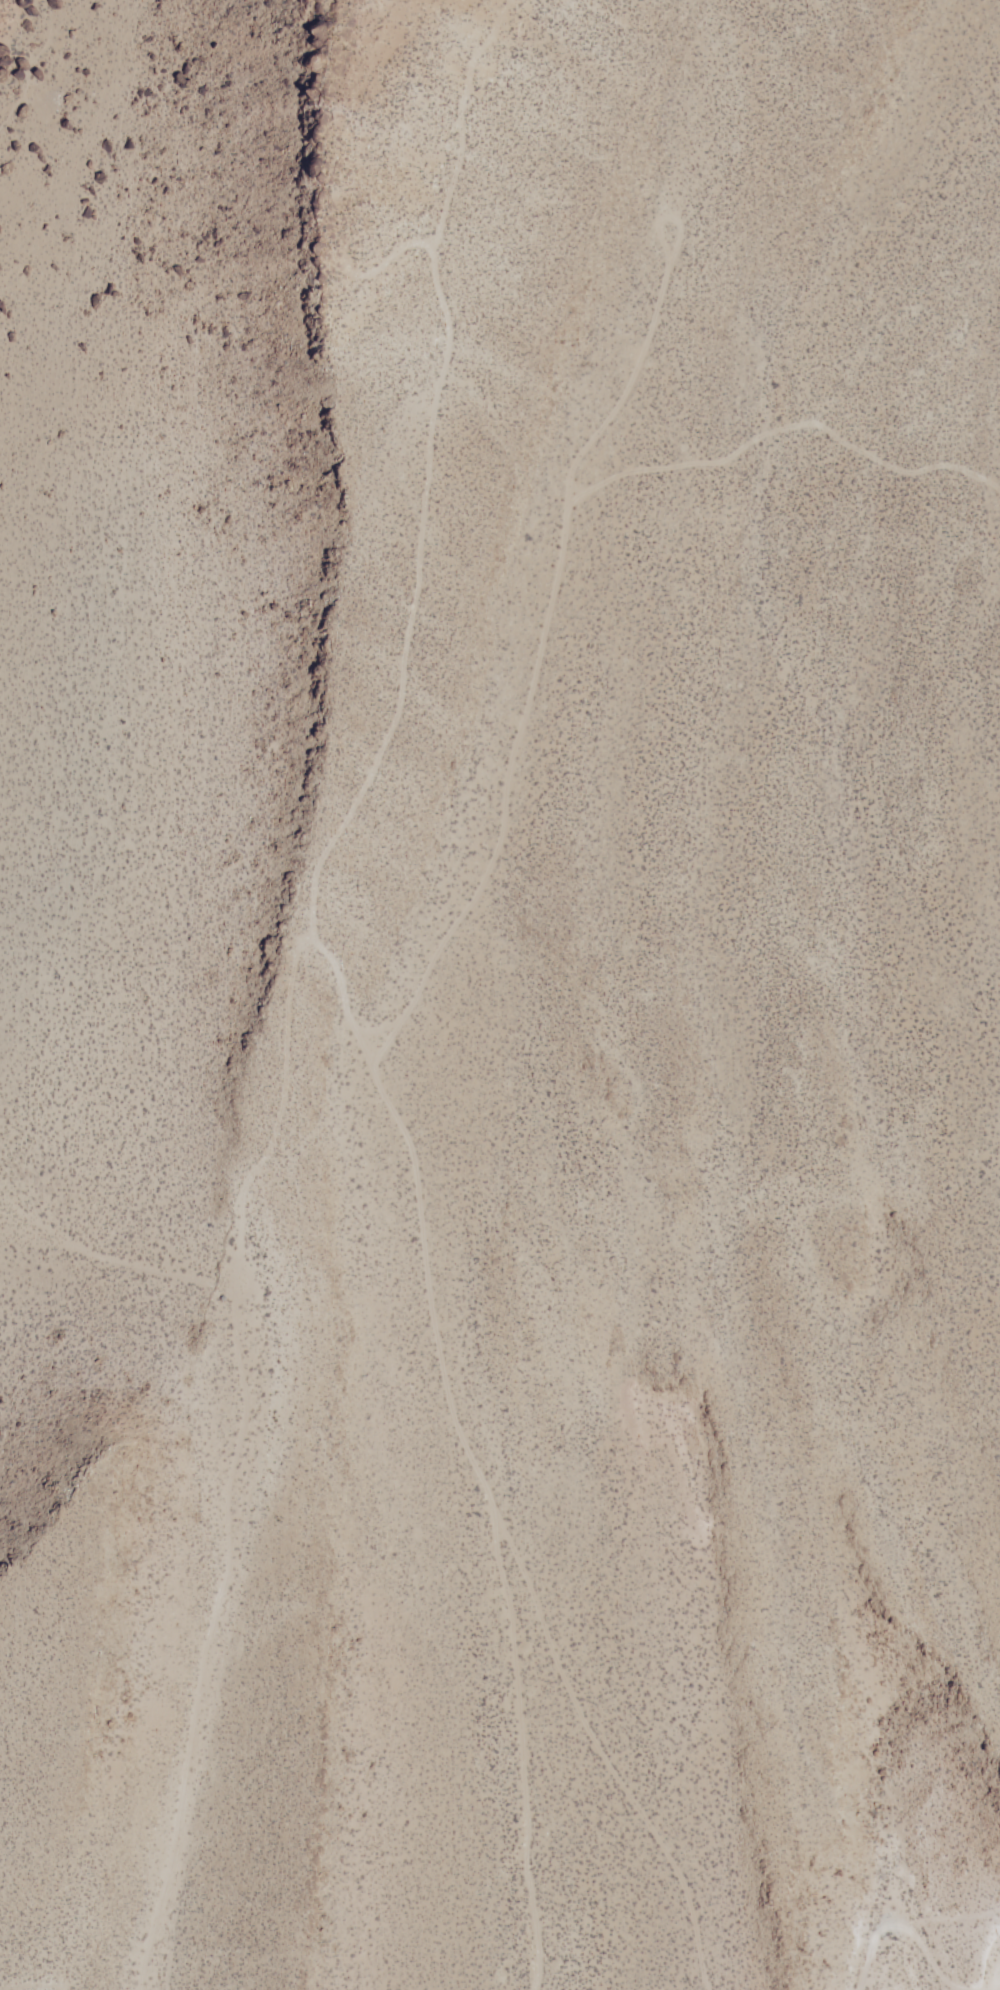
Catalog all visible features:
road: (364, 766)
road: (174, 1866)
road: (911, 1916)

